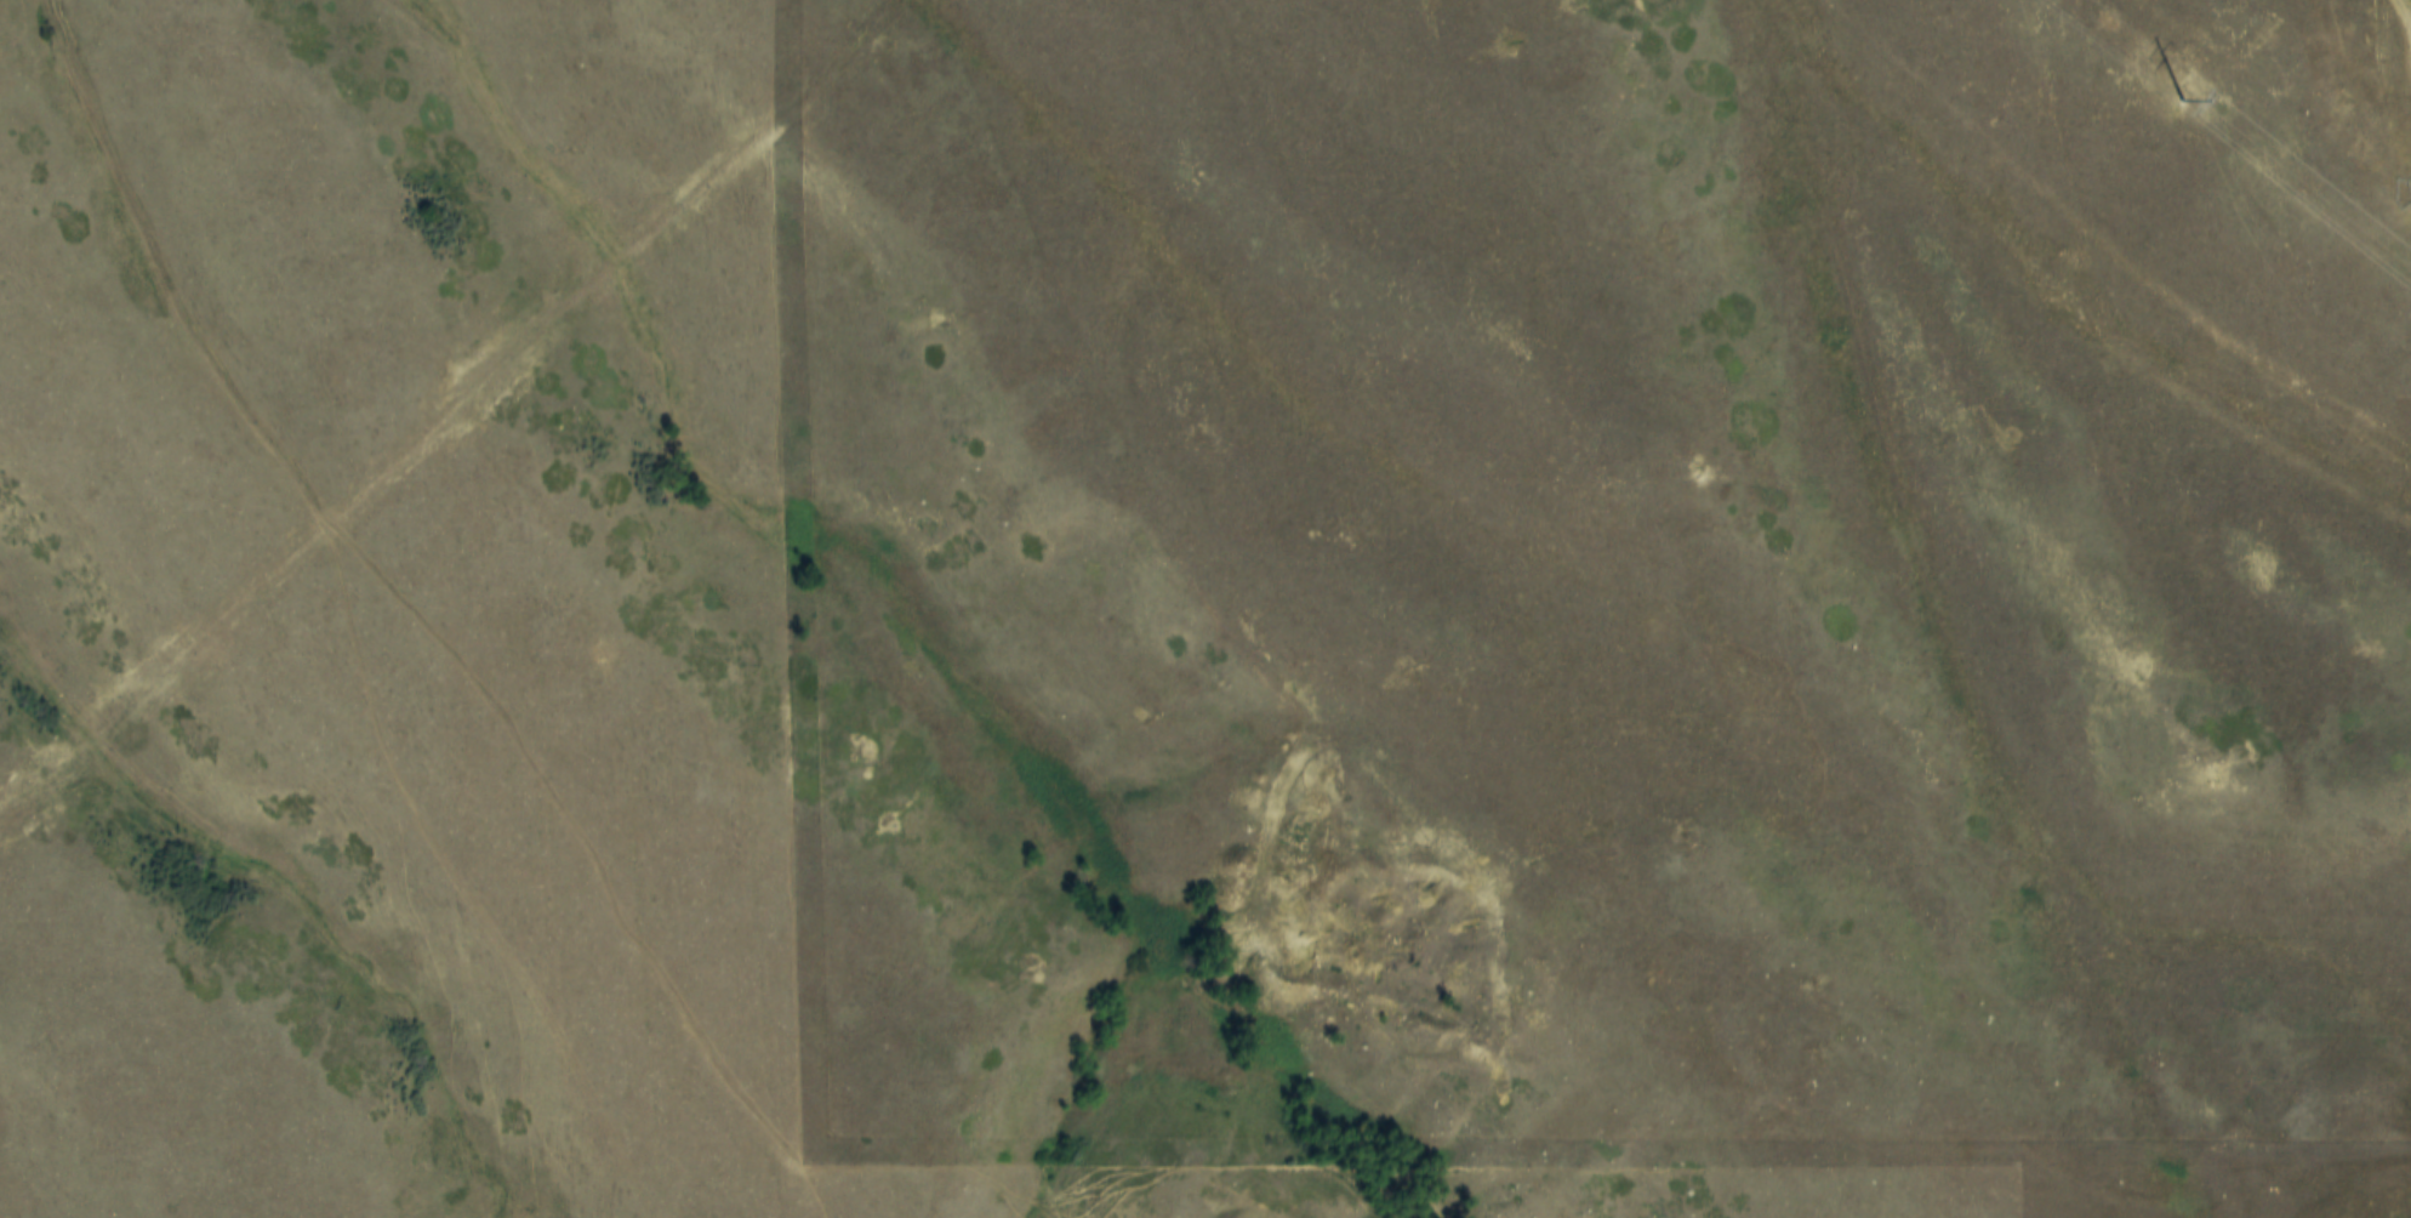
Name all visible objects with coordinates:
road: (2407, 6)
power tower: (2182, 98)

